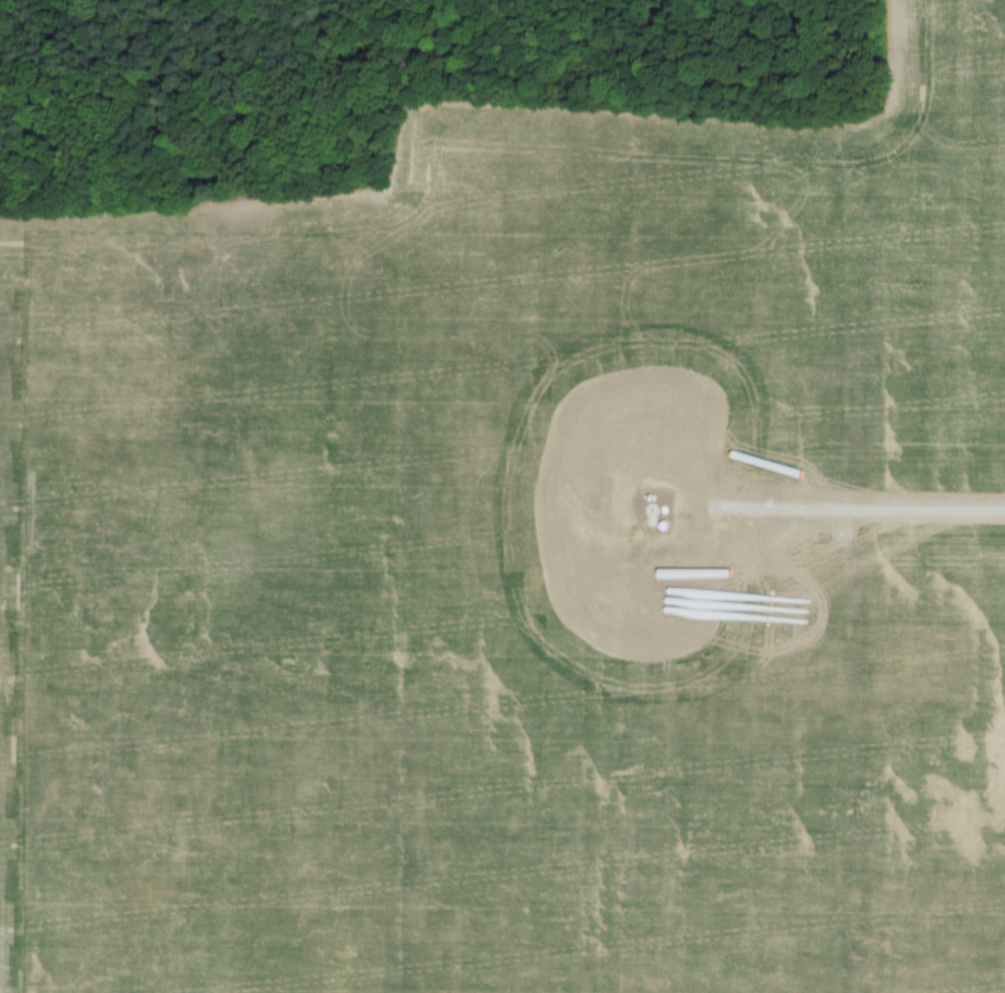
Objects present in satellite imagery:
road: (865, 507)
wind turbine: (653, 512)

